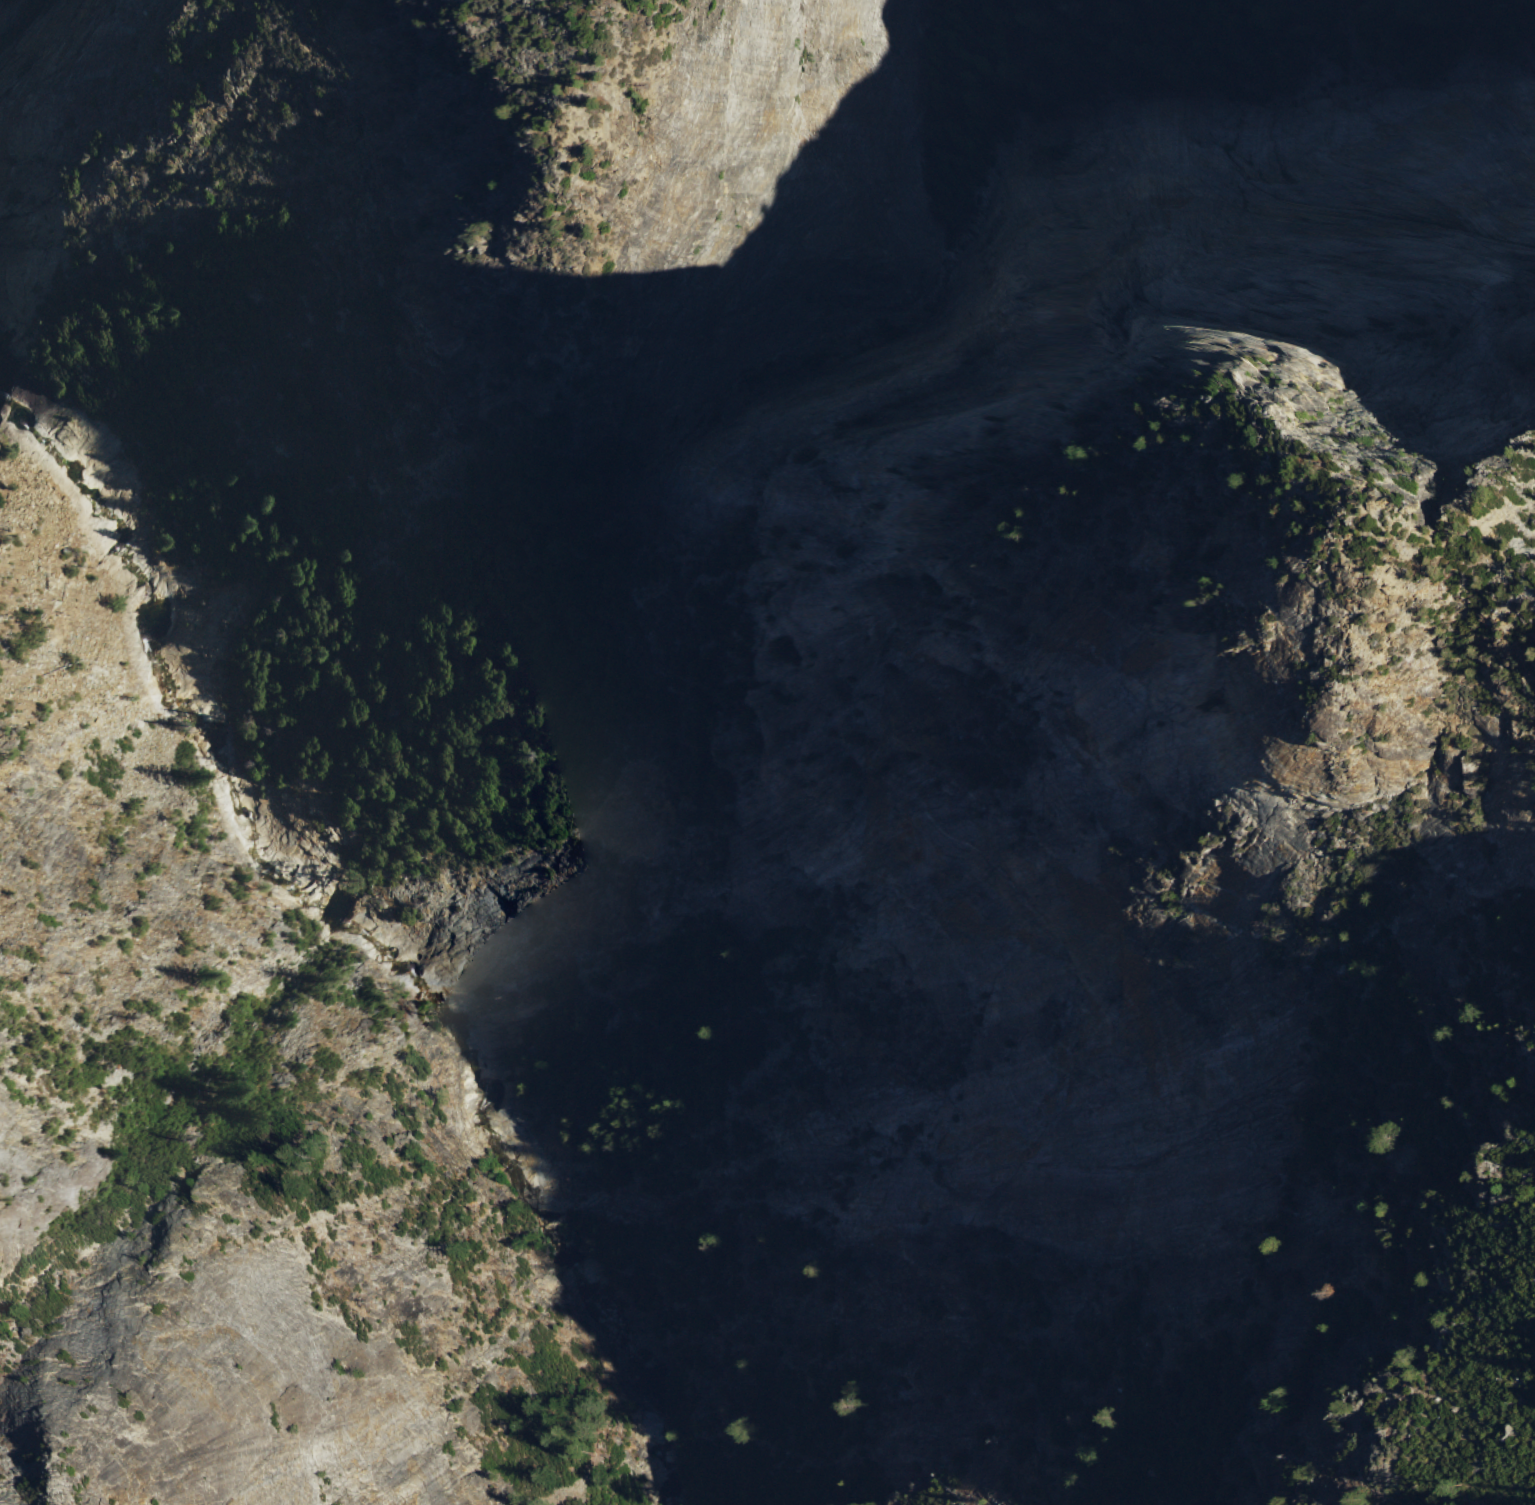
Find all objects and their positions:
road: (829, 208)
road: (629, 416)

